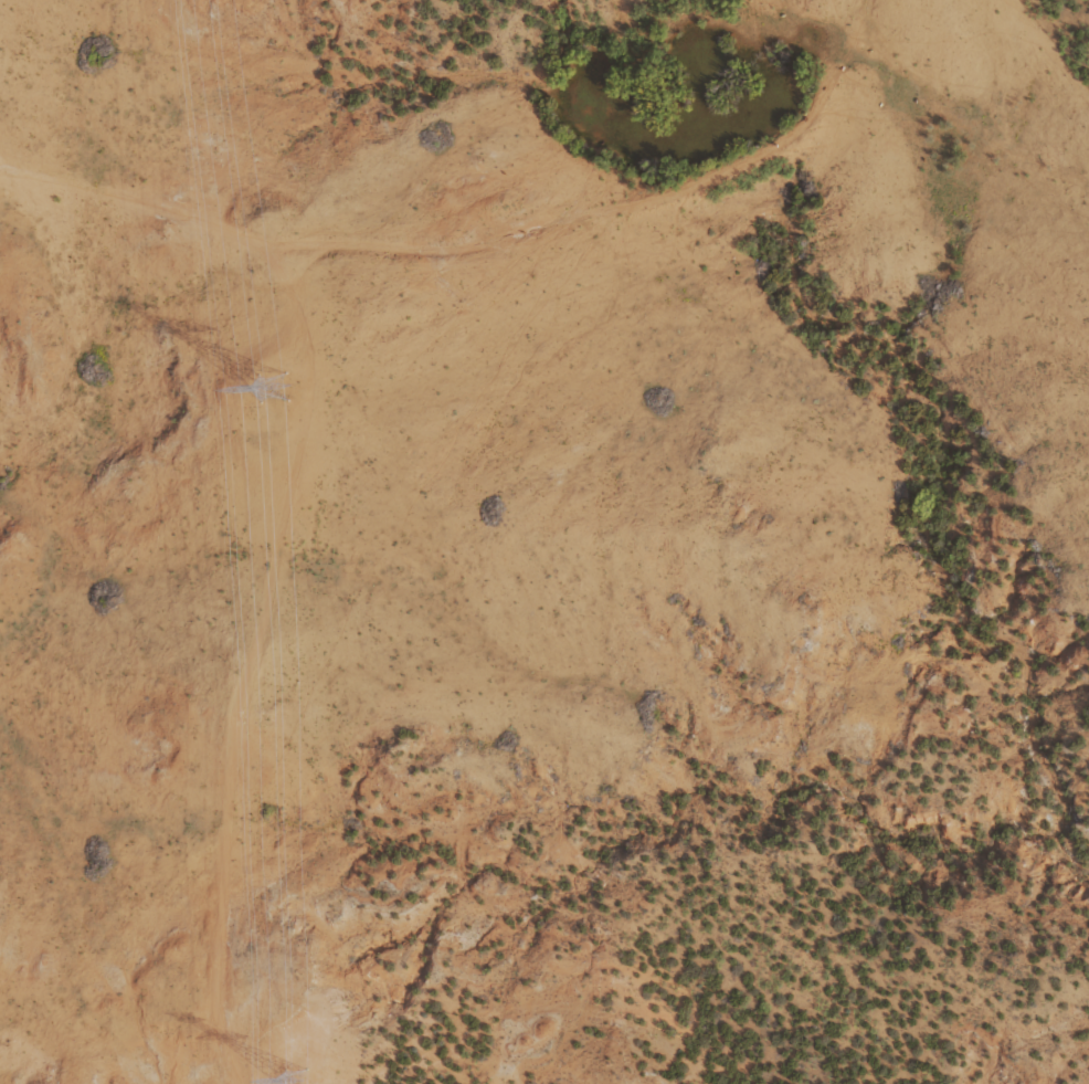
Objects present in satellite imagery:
road: (578, 352)
power tower: (268, 388)
power tower: (293, 1080)

